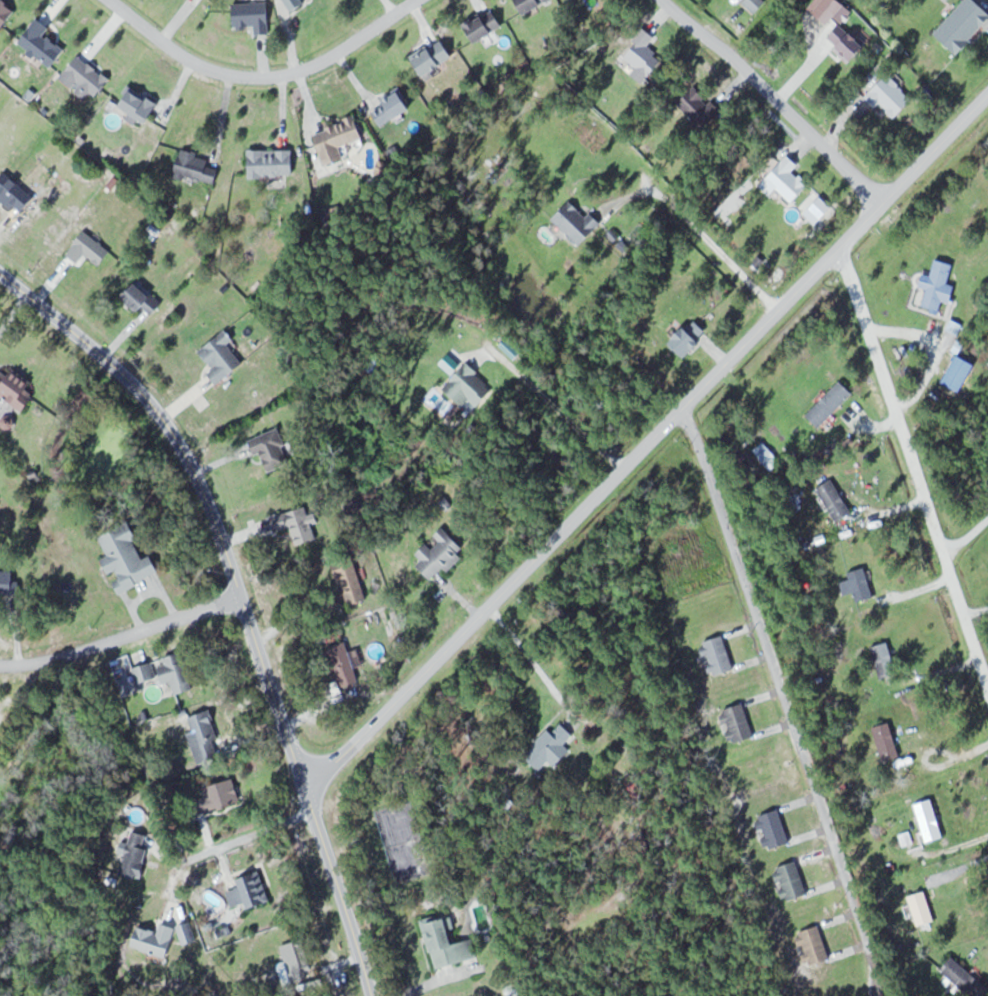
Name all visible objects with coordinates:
building: (297, 2)
building: (531, 4)
building: (828, 8)
building: (6, 12)
building: (253, 15)
building: (964, 24)
building: (484, 25)
building: (848, 41)
building: (42, 43)
building: (433, 56)
building: (644, 56)
road: (261, 76)
building: (85, 77)
building: (892, 96)
road: (773, 98)
building: (139, 103)
building: (393, 105)
building: (701, 107)
building: (338, 139)
building: (271, 162)
building: (196, 166)
building: (789, 178)
building: (16, 193)
building: (578, 222)
road: (703, 232)
building: (89, 249)
building: (940, 285)
building: (145, 298)
building: (690, 338)
building: (222, 357)
building: (15, 386)
building: (469, 386)
building: (831, 404)
road: (558, 407)
road: (647, 442)
building: (272, 449)
road: (913, 468)
building: (835, 500)
building: (299, 524)
road: (966, 537)
building: (440, 553)
building: (128, 558)
building: (350, 581)
building: (10, 582)
building: (862, 584)
road: (240, 599)
road: (120, 637)
building: (719, 654)
road: (531, 658)
building: (885, 659)
building: (182, 673)
road: (786, 698)
building: (738, 723)
building: (205, 727)
building: (887, 741)
building: (551, 747)
building: (220, 796)
building: (930, 820)
building: (774, 830)
road: (242, 837)
building: (136, 855)
building: (792, 881)
building: (250, 891)
building: (922, 908)
building: (155, 939)
building: (447, 943)
building: (814, 946)
building: (297, 957)
building: (965, 977)

